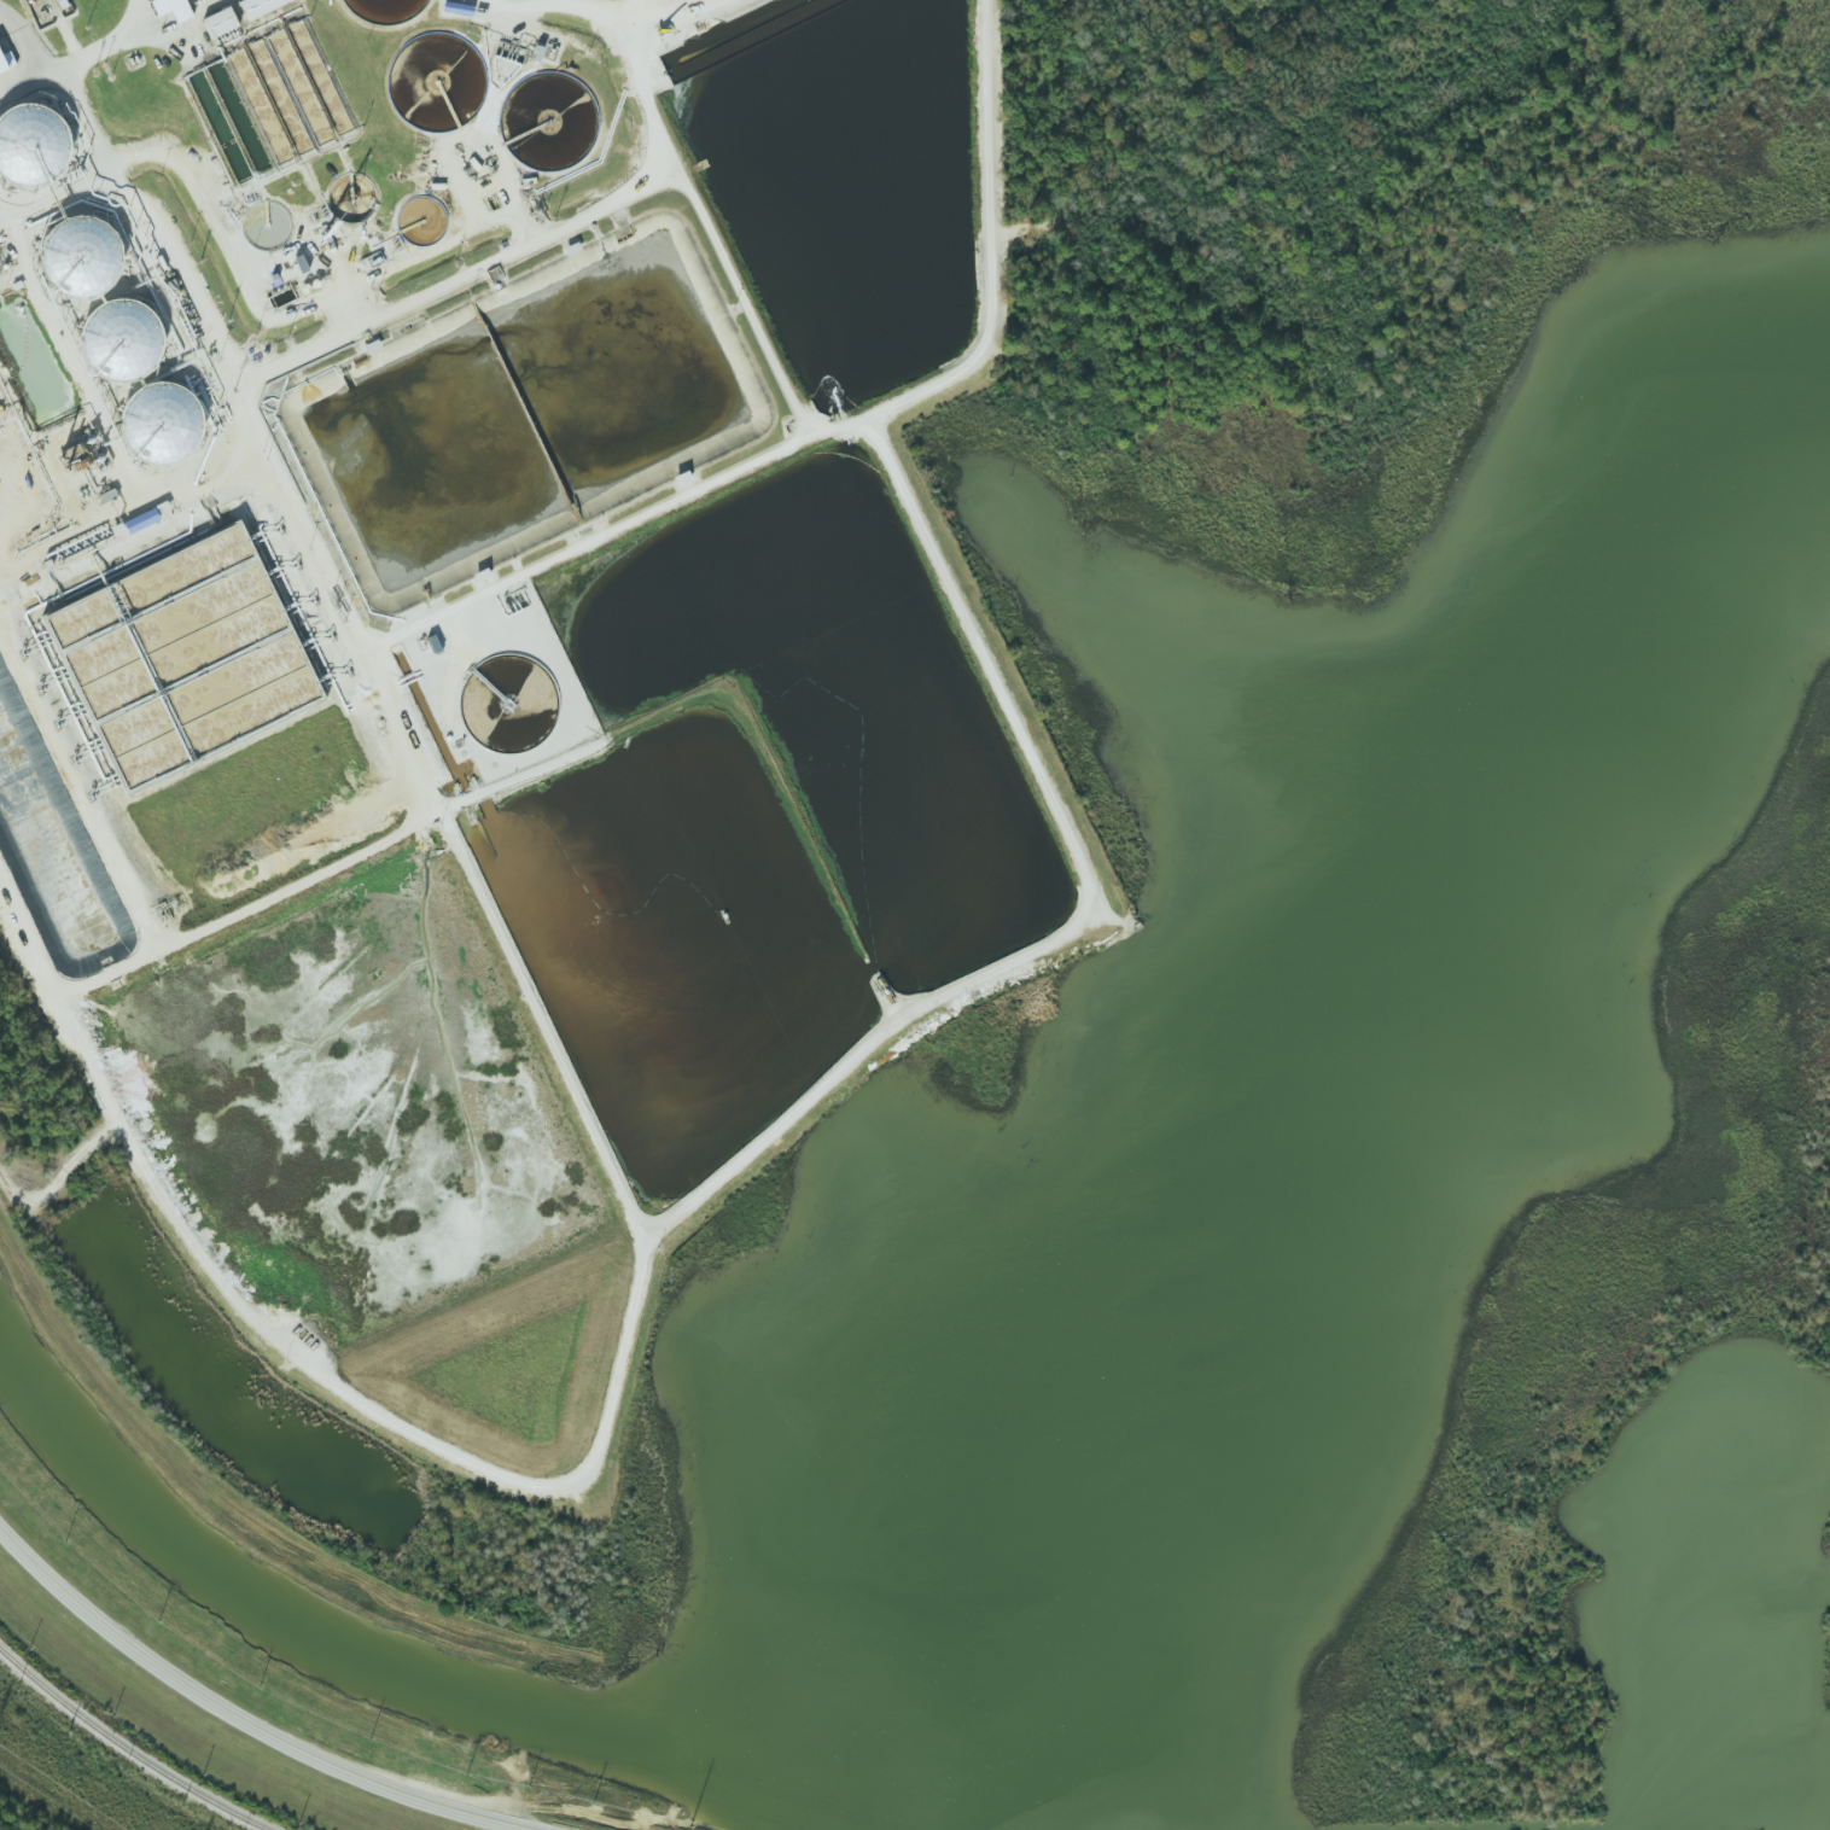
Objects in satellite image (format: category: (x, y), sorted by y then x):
building: (261, 6)
building: (173, 8)
road: (675, 22)
building: (220, 23)
road: (623, 40)
road: (33, 43)
building: (2, 65)
road: (66, 75)
building: (33, 142)
road: (584, 221)
road: (989, 243)
road: (987, 662)
road: (378, 687)
wastewater plant: (496, 699)
road: (572, 1496)
road: (246, 1719)
railway: (124, 1749)
river: (1461, 1820)

